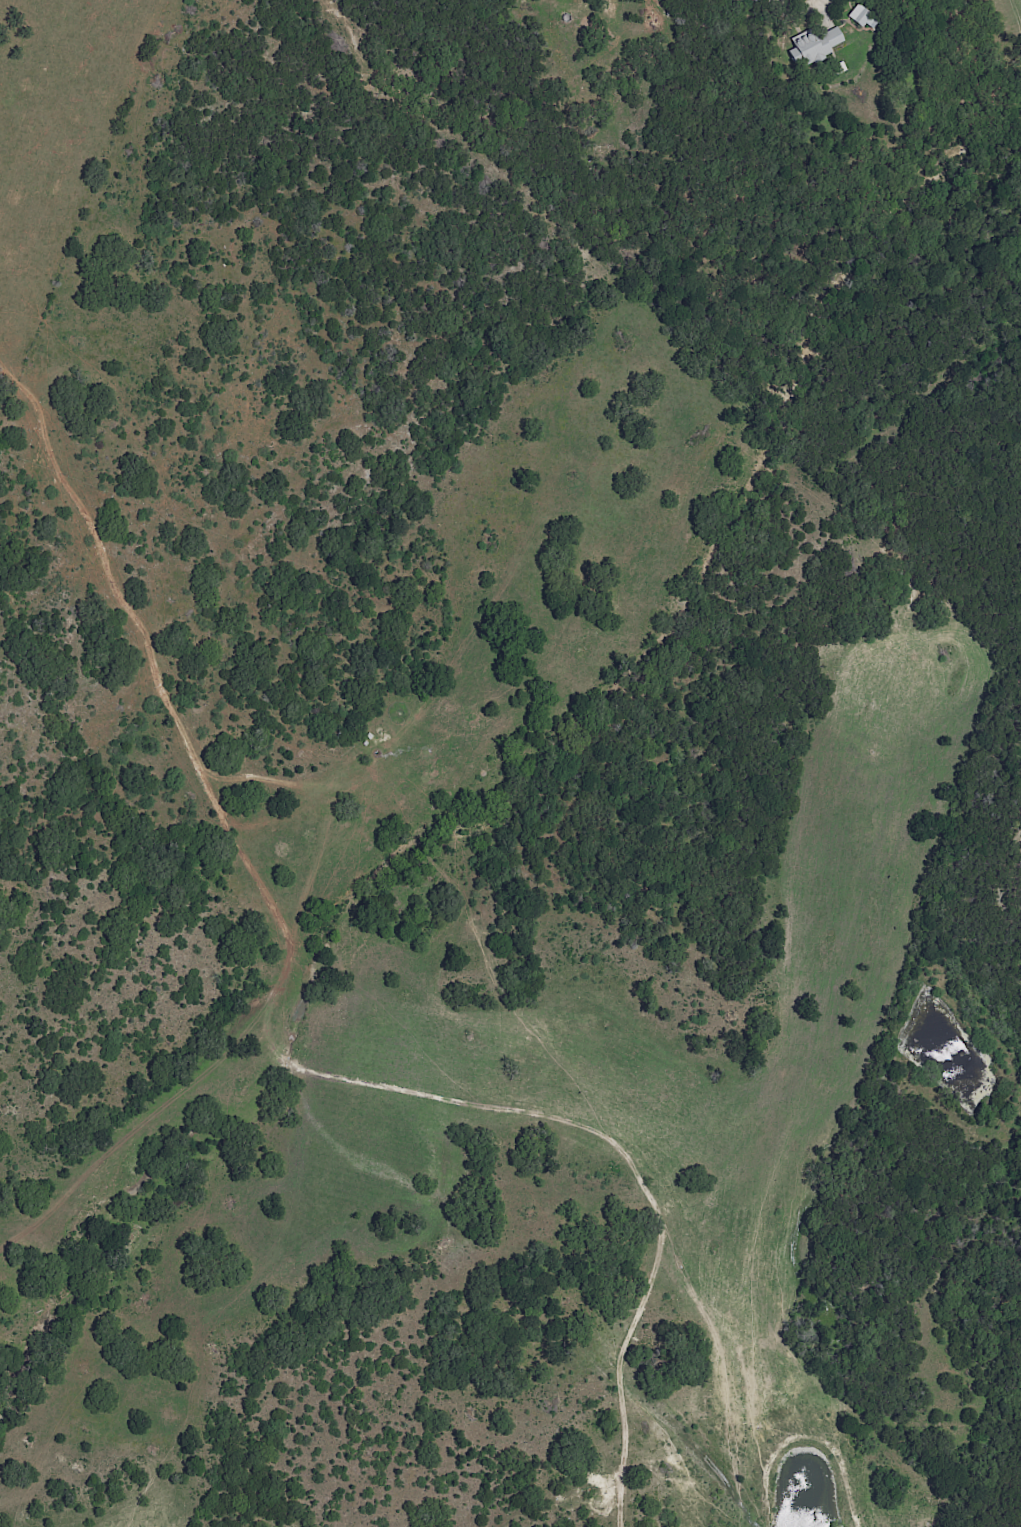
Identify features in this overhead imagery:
road: (827, 1)
building: (859, 15)
building: (818, 44)

